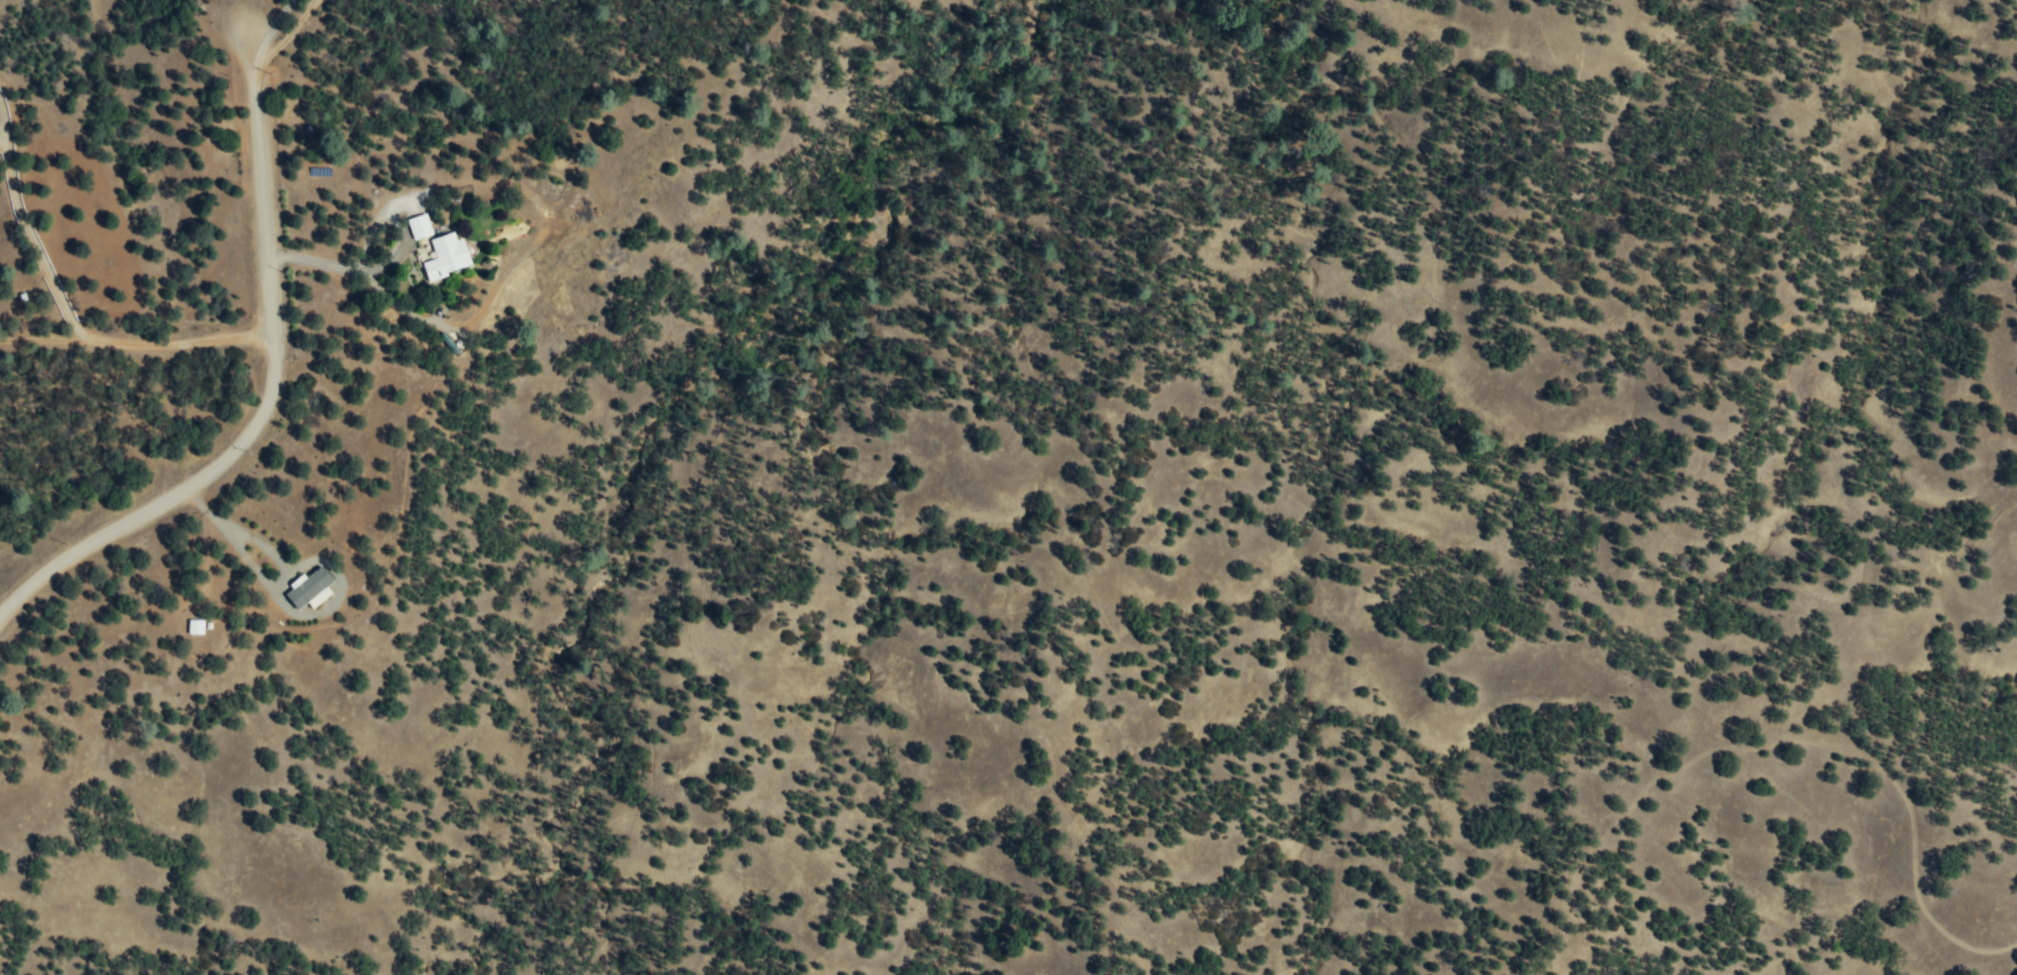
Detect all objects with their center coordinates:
road: (4, 116)
road: (4, 134)
building: (419, 226)
road: (34, 244)
building: (446, 255)
road: (342, 268)
road: (136, 344)
road: (270, 390)
building: (308, 589)

